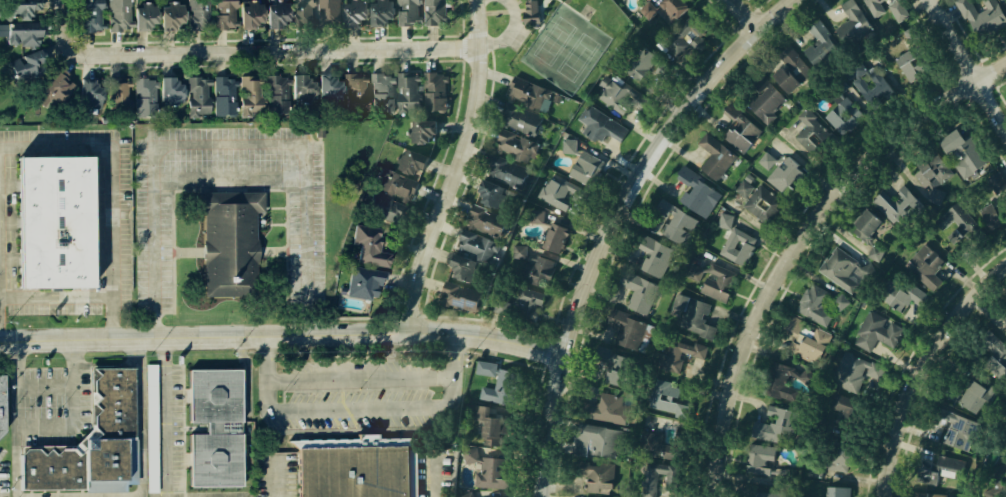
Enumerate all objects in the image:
road: (528, 4)
road: (541, 4)
building: (882, 5)
road: (458, 7)
building: (18, 9)
road: (527, 9)
road: (510, 10)
building: (898, 10)
building: (380, 11)
building: (406, 11)
building: (529, 11)
building: (354, 12)
building: (433, 12)
road: (493, 12)
building: (222, 13)
building: (302, 13)
building: (328, 13)
road: (475, 13)
road: (750, 13)
building: (116, 14)
building: (195, 14)
road: (463, 14)
building: (669, 14)
building: (141, 15)
building: (168, 15)
building: (247, 15)
building: (274, 15)
building: (983, 15)
building: (90, 16)
road: (539, 17)
park: (492, 18)
building: (850, 19)
road: (460, 25)
road: (538, 28)
road: (507, 31)
building: (18, 32)
road: (472, 34)
parking lot: (516, 37)
road: (486, 41)
building: (685, 42)
park: (562, 44)
building: (822, 44)
road: (252, 47)
park: (565, 47)
road: (460, 48)
road: (471, 57)
road: (491, 58)
building: (903, 60)
road: (970, 61)
building: (25, 62)
building: (786, 64)
building: (643, 65)
road: (993, 72)
building: (869, 82)
building: (52, 86)
building: (406, 86)
building: (299, 87)
building: (325, 88)
building: (379, 90)
building: (434, 90)
building: (166, 91)
building: (353, 91)
building: (86, 92)
building: (274, 93)
building: (525, 94)
building: (115, 95)
building: (141, 95)
building: (221, 95)
building: (246, 95)
building: (195, 96)
building: (617, 96)
building: (873, 97)
building: (763, 98)
building: (845, 116)
building: (522, 119)
building: (736, 124)
building: (596, 125)
building: (419, 132)
building: (828, 132)
building: (812, 133)
building: (514, 145)
building: (569, 146)
building: (963, 150)
road: (230, 151)
building: (715, 151)
building: (767, 161)
building: (410, 162)
building: (590, 166)
road: (454, 167)
building: (793, 168)
building: (505, 171)
building: (394, 183)
building: (932, 183)
building: (996, 184)
road: (117, 185)
building: (555, 187)
building: (494, 194)
building: (760, 197)
building: (883, 203)
building: (689, 204)
building: (382, 206)
building: (537, 216)
building: (991, 216)
building: (42, 219)
building: (484, 219)
building: (953, 220)
road: (615, 221)
building: (726, 221)
building: (865, 228)
building: (554, 240)
building: (226, 241)
building: (370, 242)
building: (735, 242)
building: (475, 245)
building: (520, 251)
road: (796, 254)
building: (647, 255)
building: (873, 255)
building: (835, 266)
building: (924, 266)
building: (463, 267)
building: (696, 272)
building: (535, 276)
building: (361, 281)
building: (714, 285)
building: (638, 288)
building: (459, 294)
building: (902, 295)
road: (59, 297)
building: (838, 301)
building: (530, 302)
building: (814, 305)
building: (501, 306)
road: (1, 316)
building: (699, 319)
building: (623, 324)
building: (794, 329)
building: (876, 331)
road: (208, 337)
road: (492, 338)
building: (990, 341)
building: (681, 357)
building: (617, 367)
building: (484, 368)
building: (853, 371)
road: (924, 373)
road: (265, 374)
road: (457, 374)
road: (361, 379)
building: (502, 380)
building: (771, 382)
road: (46, 384)
building: (967, 391)
building: (661, 395)
building: (603, 401)
building: (1, 405)
road: (352, 410)
road: (140, 417)
road: (165, 417)
building: (494, 421)
road: (44, 425)
building: (148, 426)
building: (955, 427)
building: (215, 428)
building: (762, 430)
building: (653, 434)
building: (594, 439)
building: (90, 440)
building: (849, 460)
road: (17, 461)
building: (757, 461)
building: (489, 465)
building: (934, 468)
building: (812, 470)
building: (353, 473)
road: (436, 477)
building: (592, 480)
building: (650, 480)
road: (277, 481)
building: (997, 483)
building: (843, 490)
building: (933, 491)
building: (495, 493)
building: (762, 494)
road: (119, 496)
building: (470, 496)
building: (822, 496)

